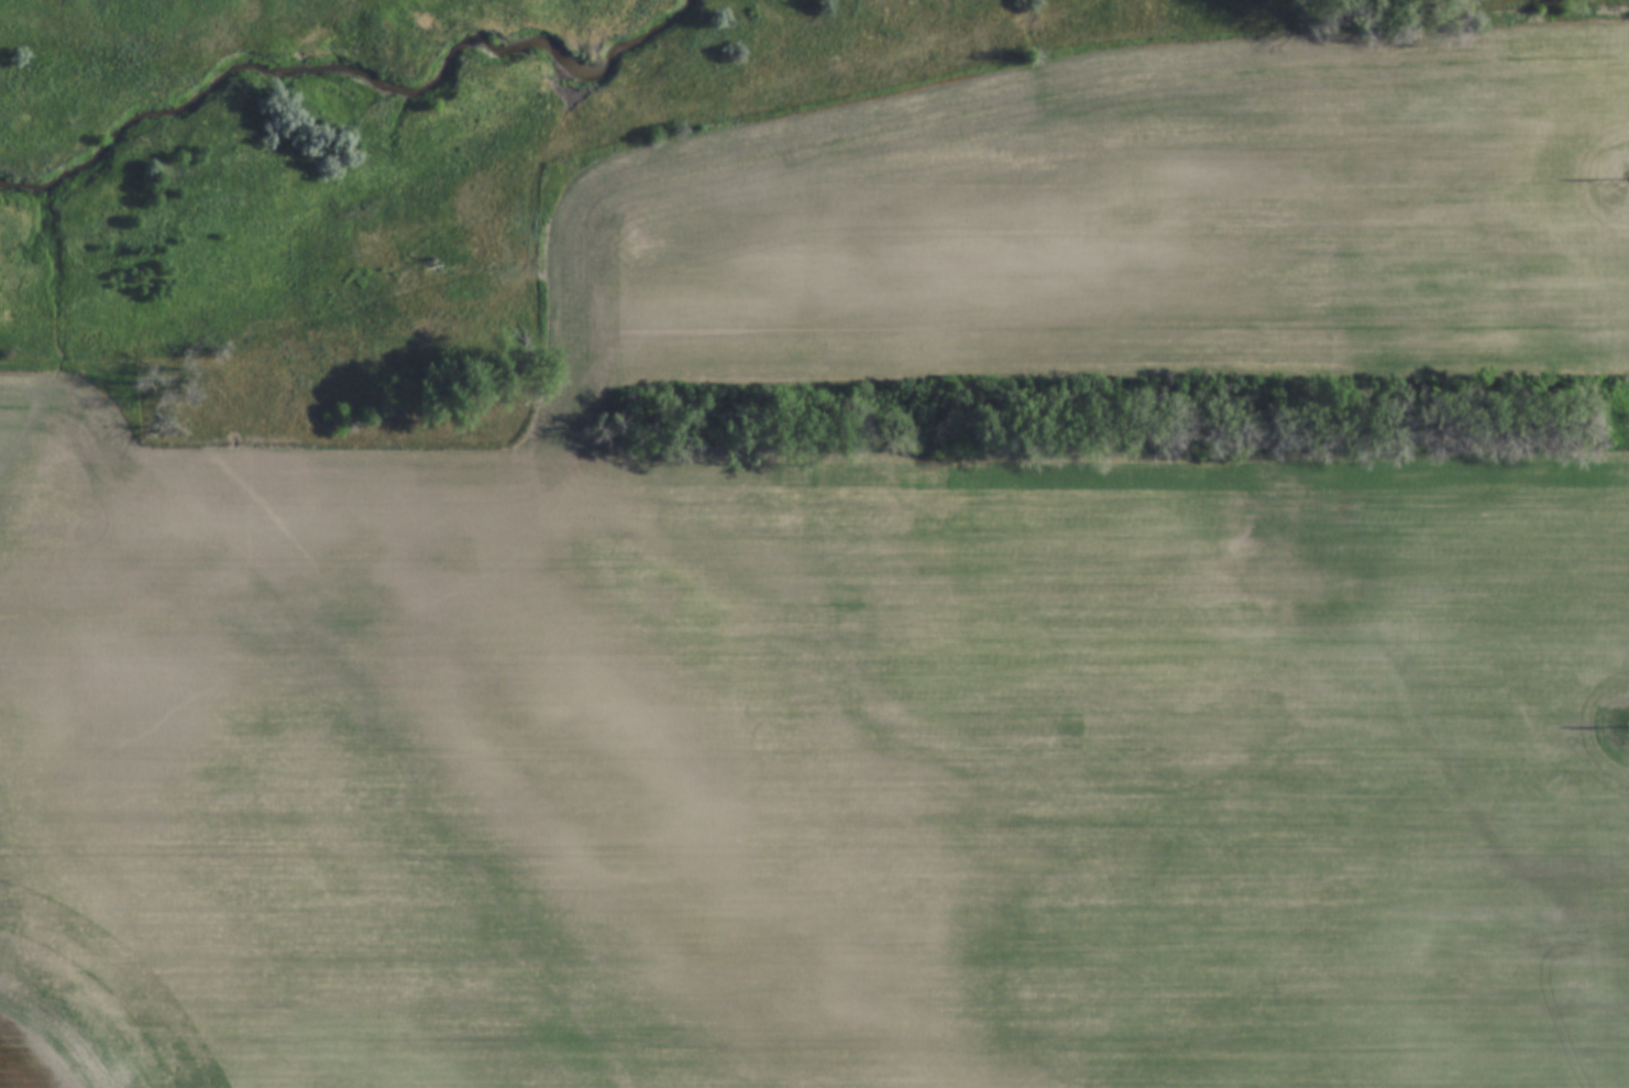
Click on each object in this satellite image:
road: (54, 384)

